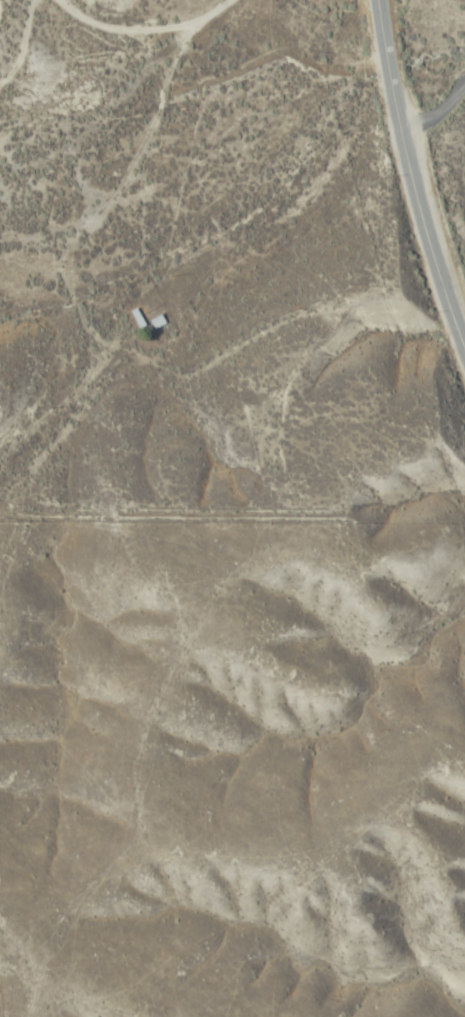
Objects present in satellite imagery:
road: (141, 144)
road: (424, 154)
building: (156, 322)
road: (138, 412)
road: (69, 470)
crop: (210, 549)
road: (228, 652)

